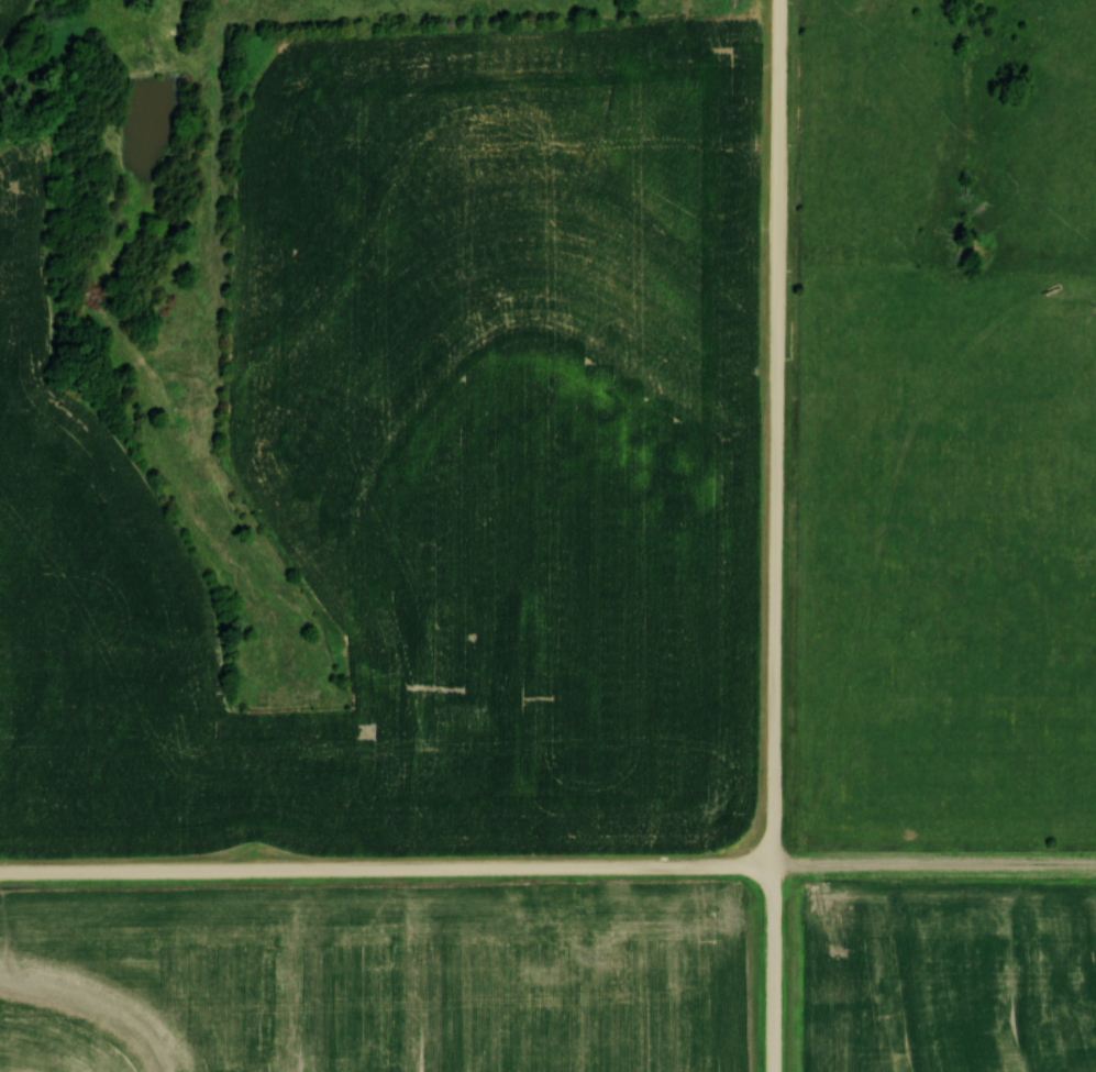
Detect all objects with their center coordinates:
road: (779, 535)
road: (547, 871)
building: (573, 925)
building: (596, 926)

